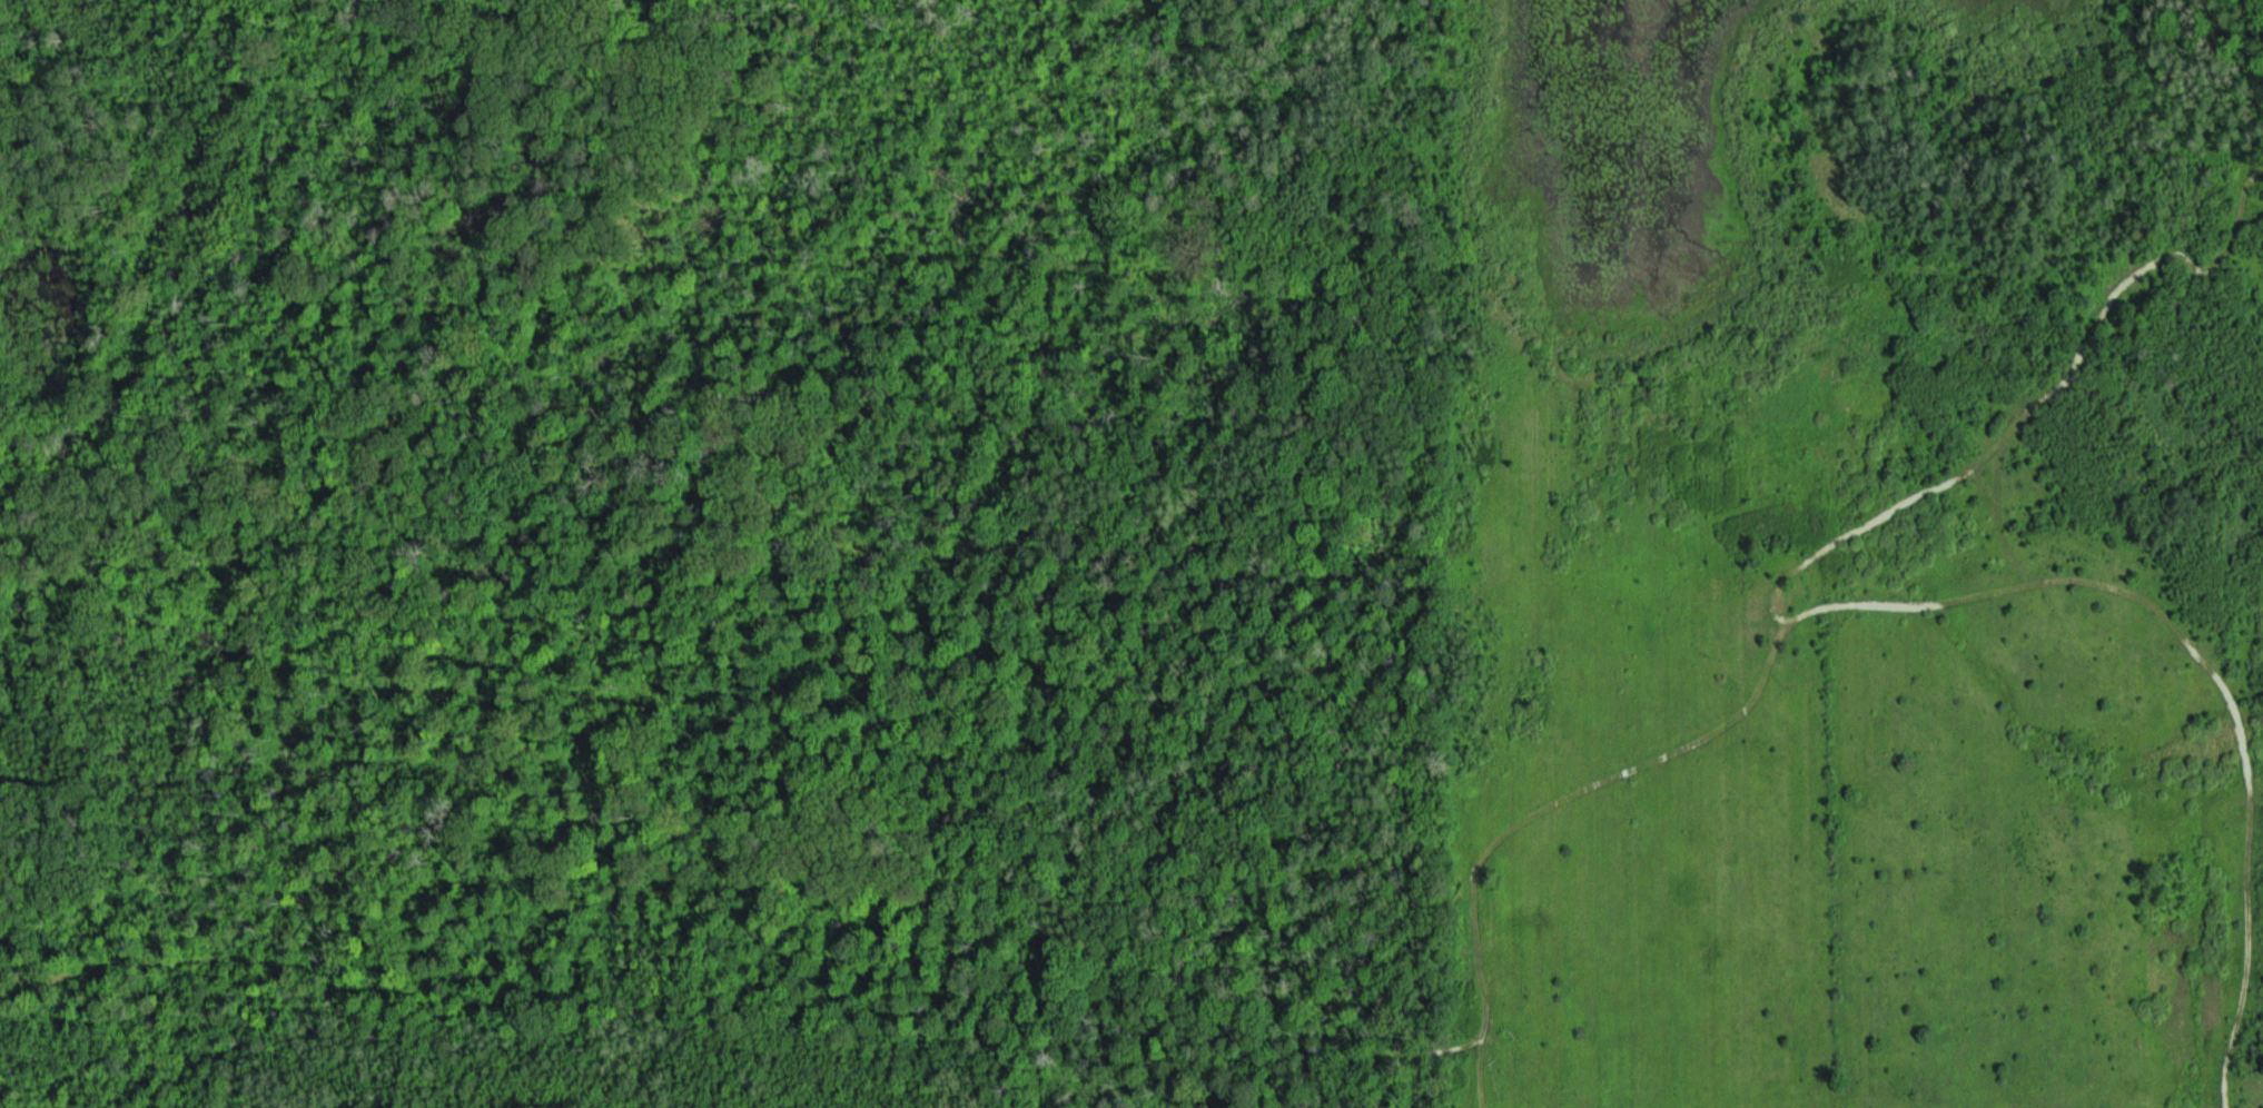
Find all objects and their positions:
road: (8, 987)

